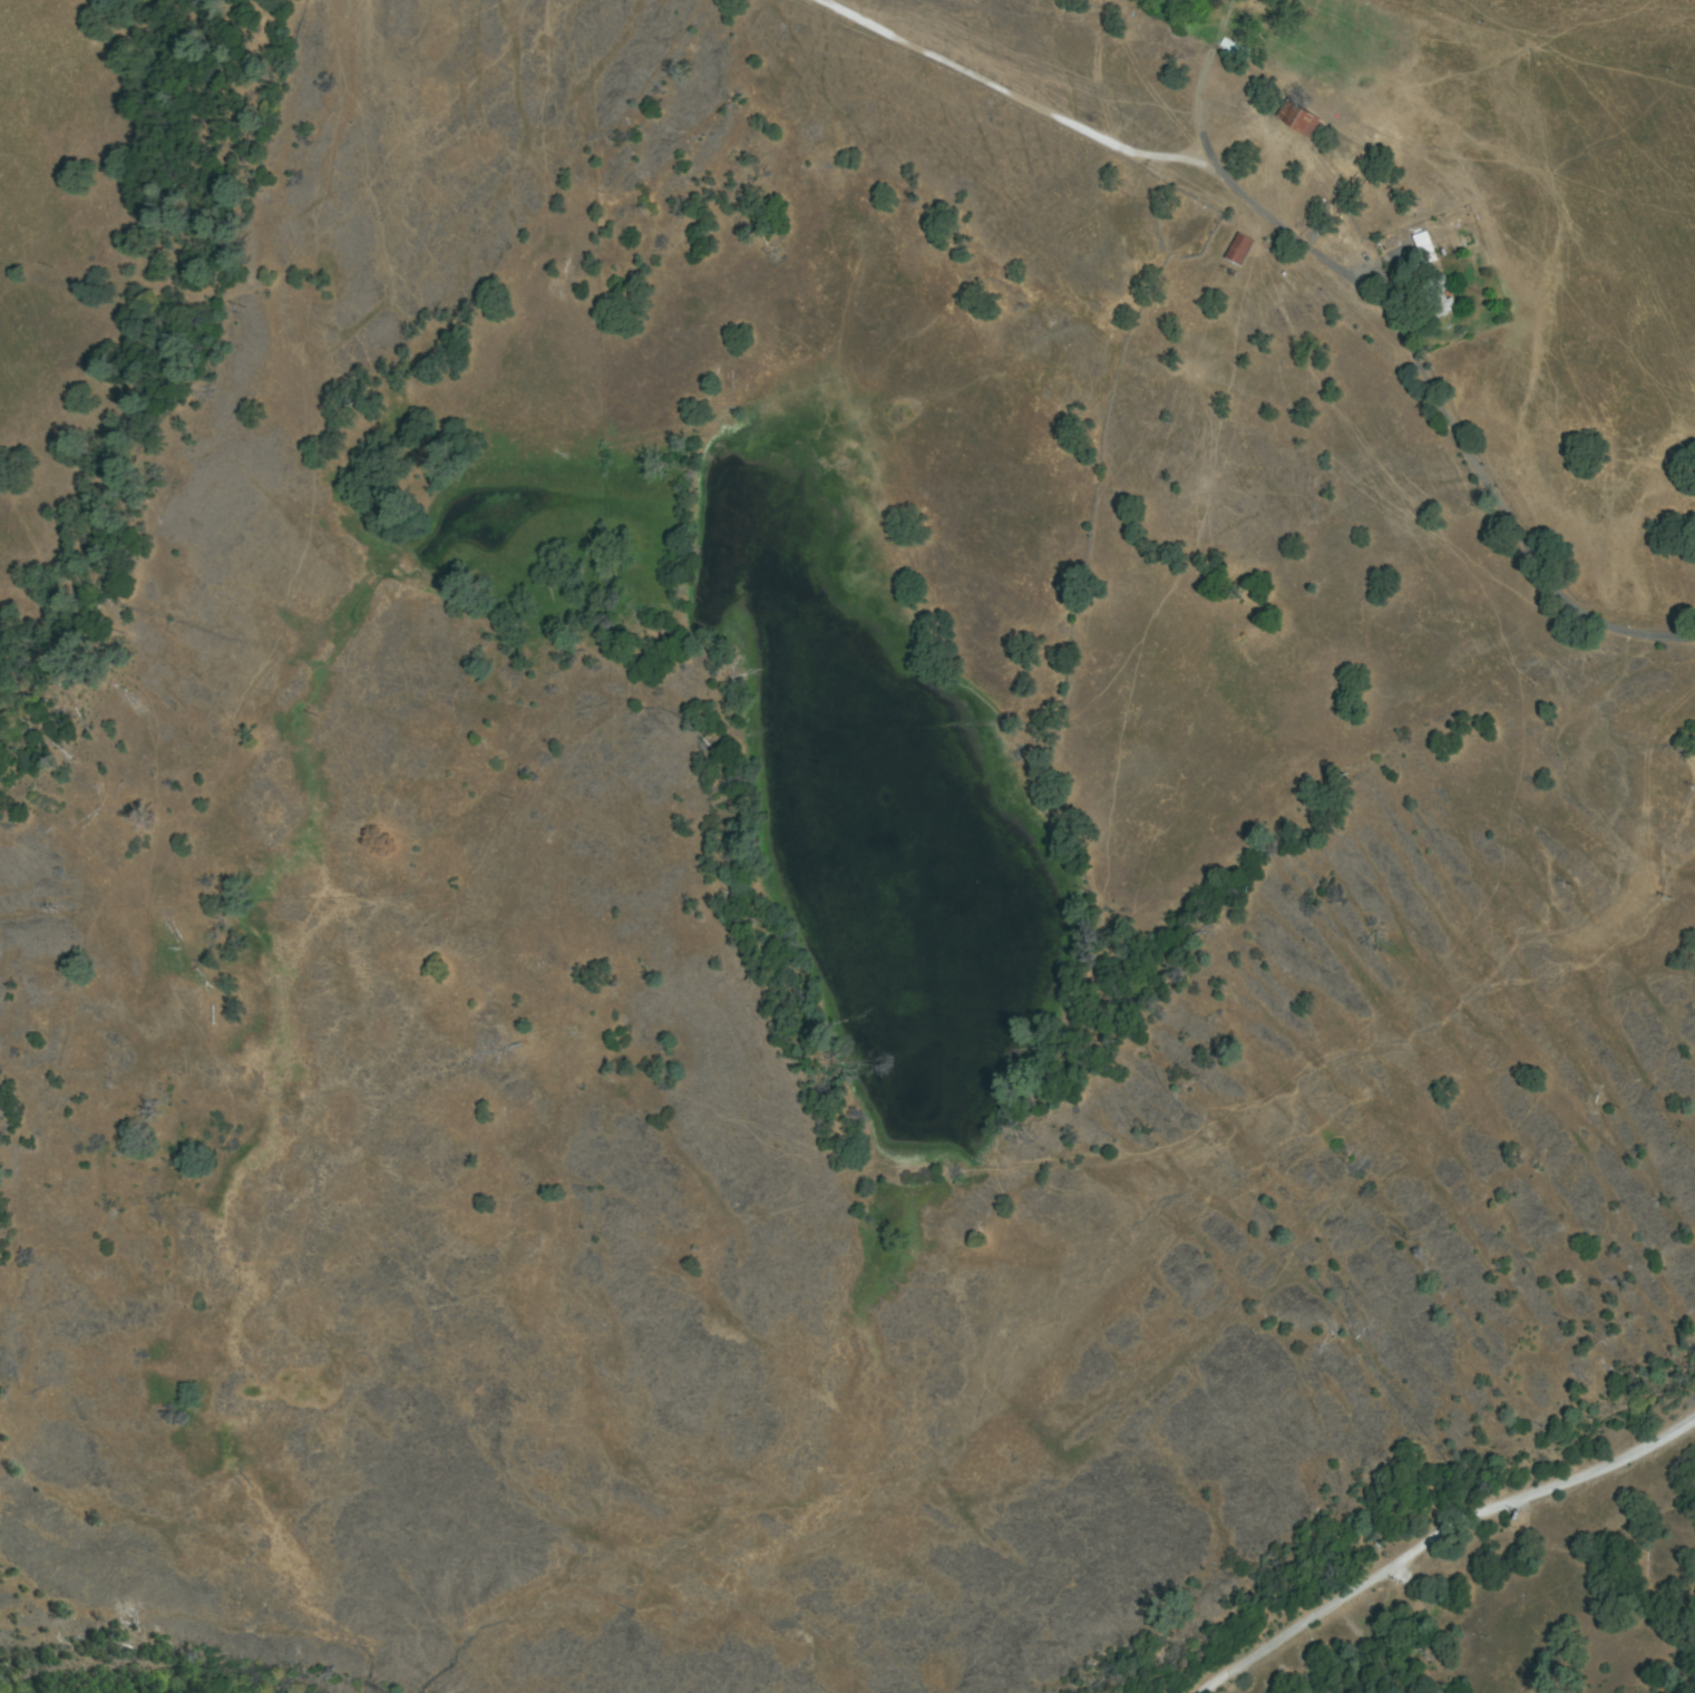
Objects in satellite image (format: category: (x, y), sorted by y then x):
building: (1301, 120)
building: (1424, 247)
building: (1239, 250)
road: (1312, 254)
building: (1436, 298)
road: (1442, 1548)

